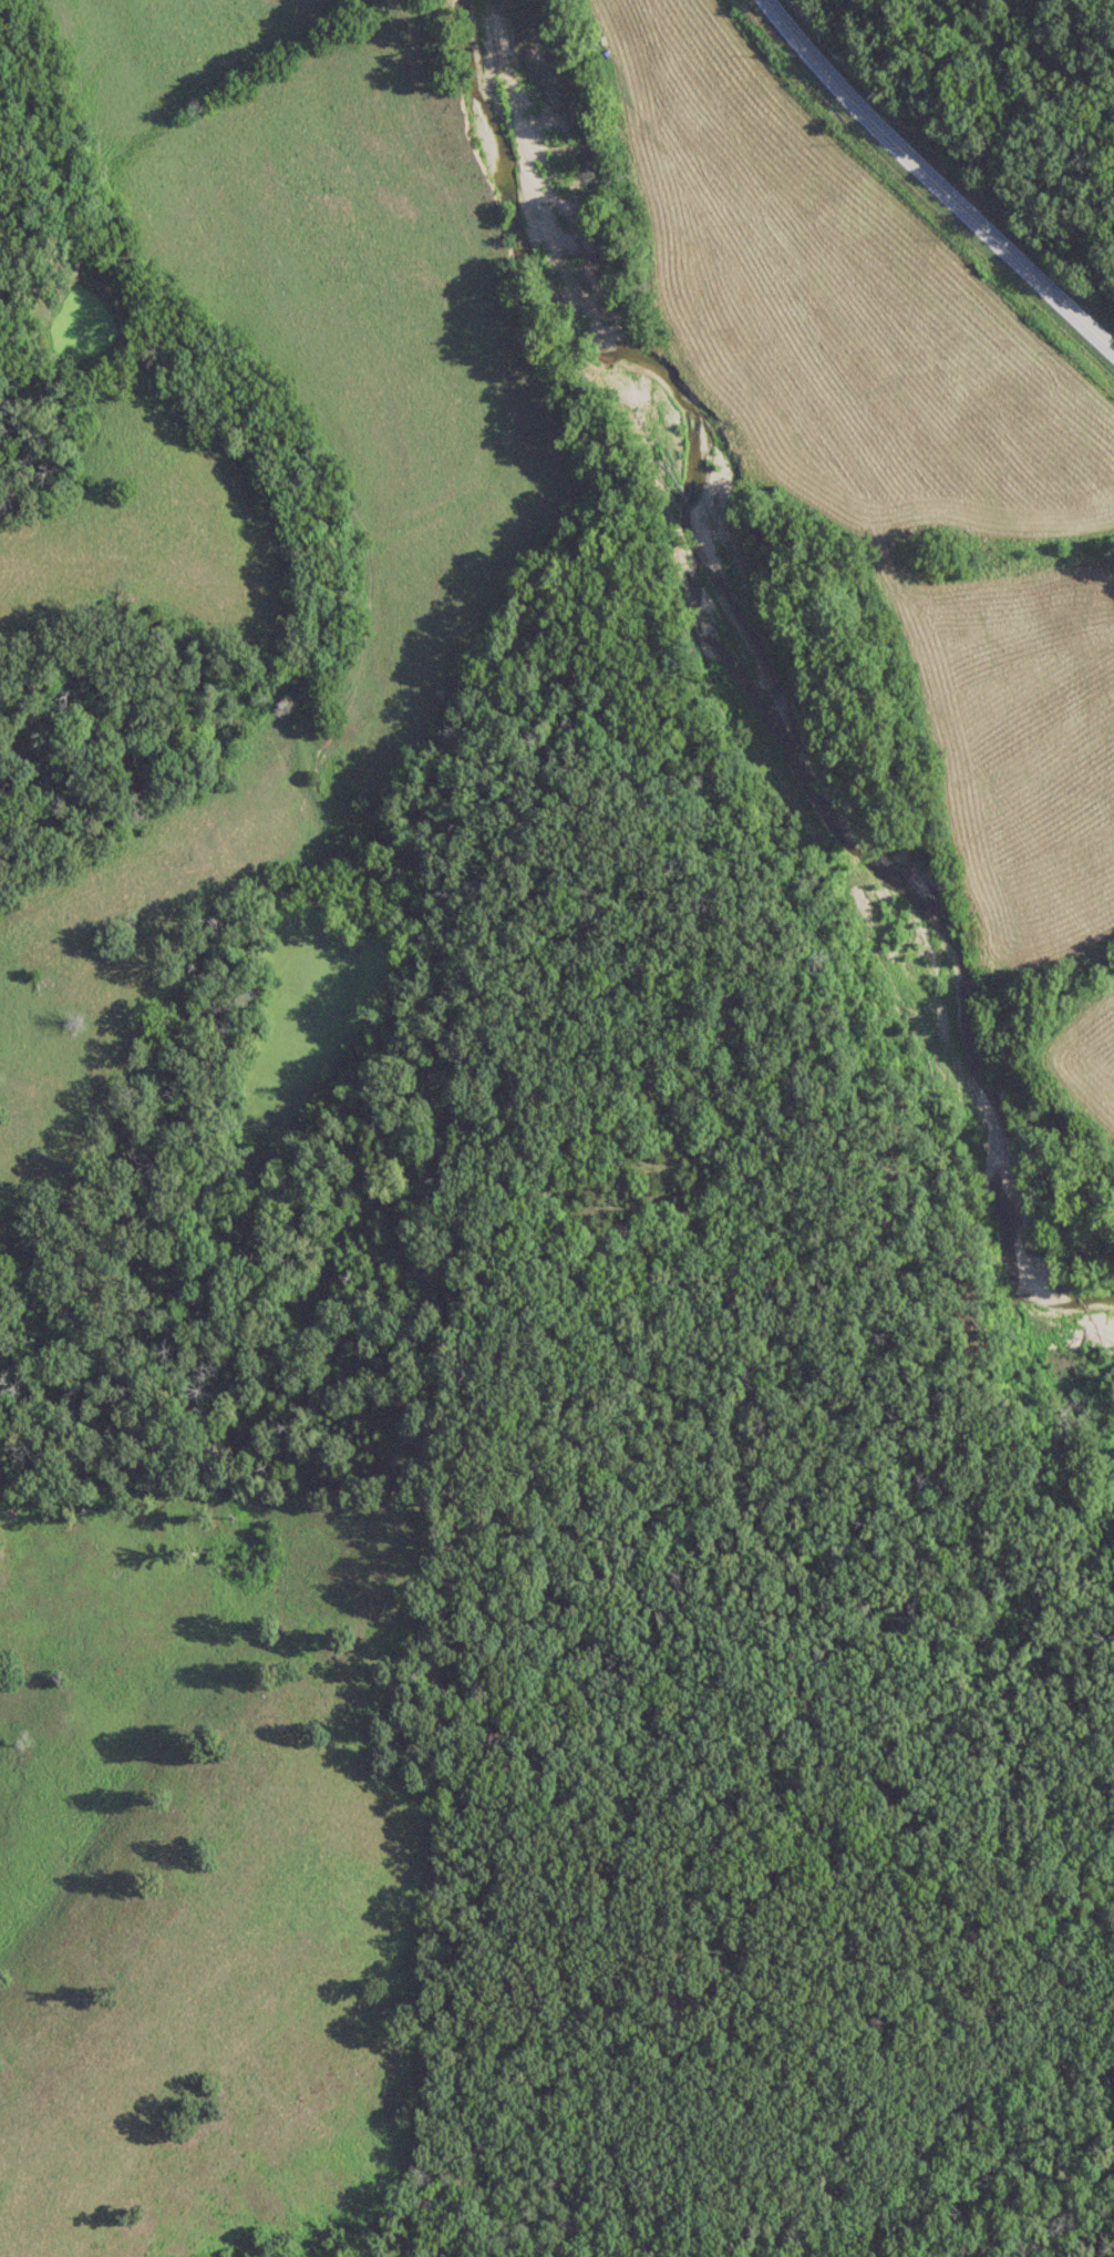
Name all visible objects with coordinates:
road: (934, 178)

